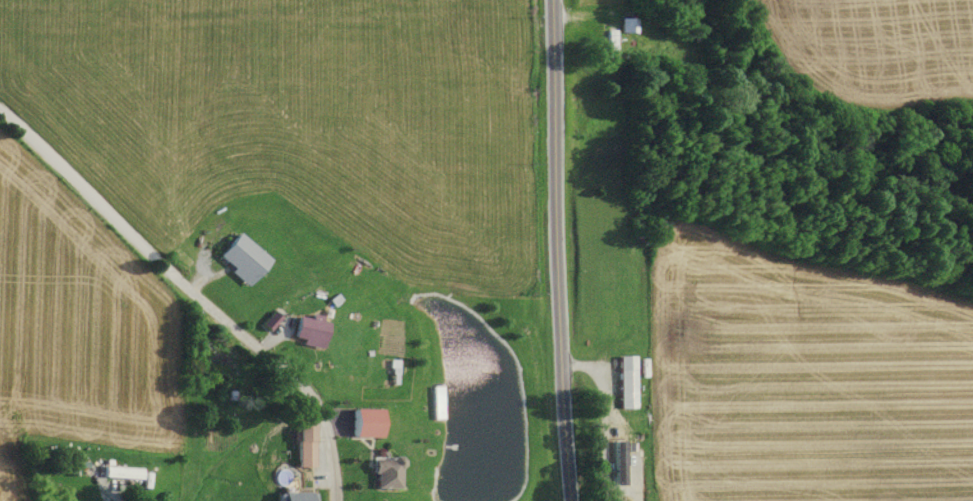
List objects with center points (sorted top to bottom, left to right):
building: (627, 26)
building: (609, 45)
road: (557, 250)
building: (240, 259)
road: (197, 295)
building: (308, 331)
building: (349, 334)
building: (625, 383)
building: (363, 424)
building: (303, 446)
building: (616, 459)
building: (120, 473)
building: (384, 474)
building: (296, 496)

